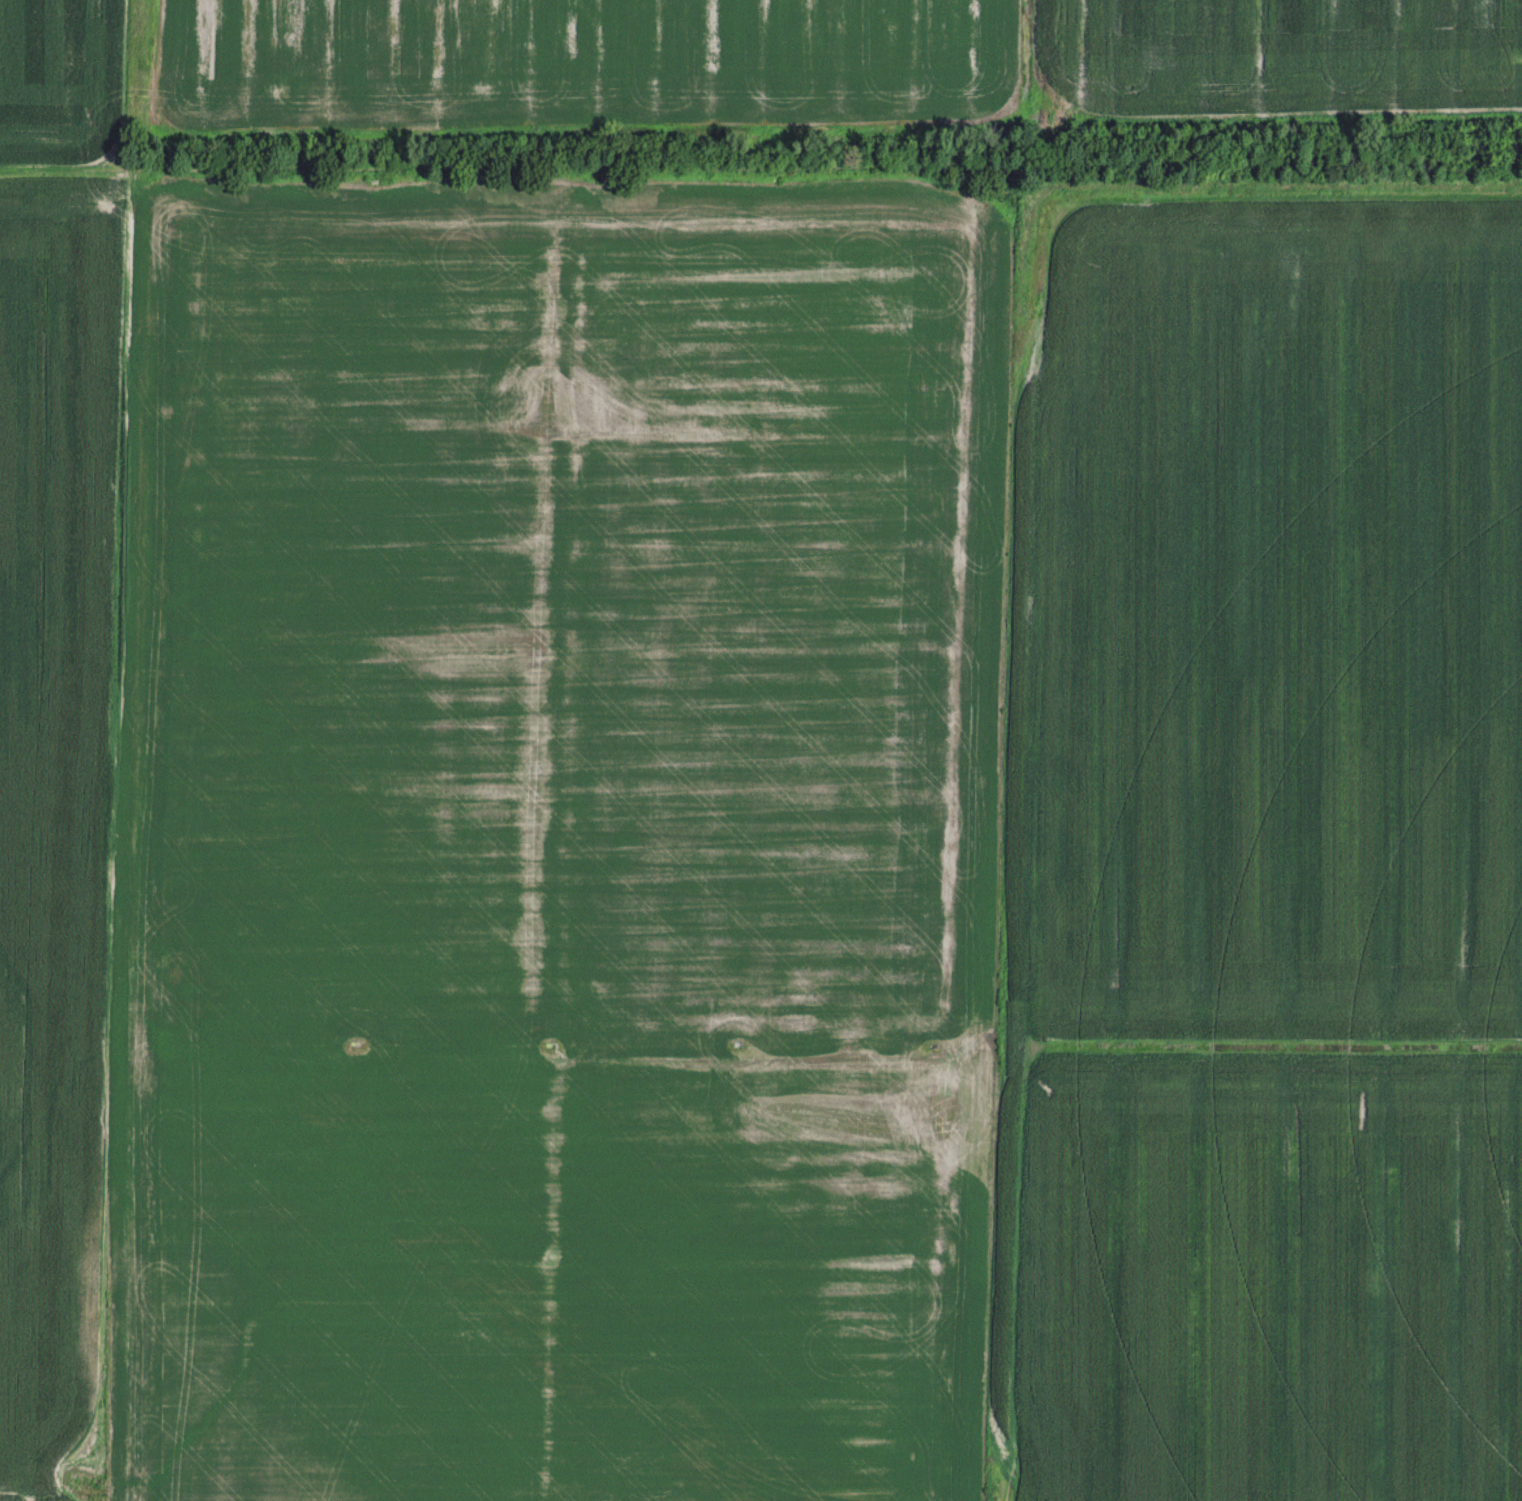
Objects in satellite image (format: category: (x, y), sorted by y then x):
road: (983, 1380)

